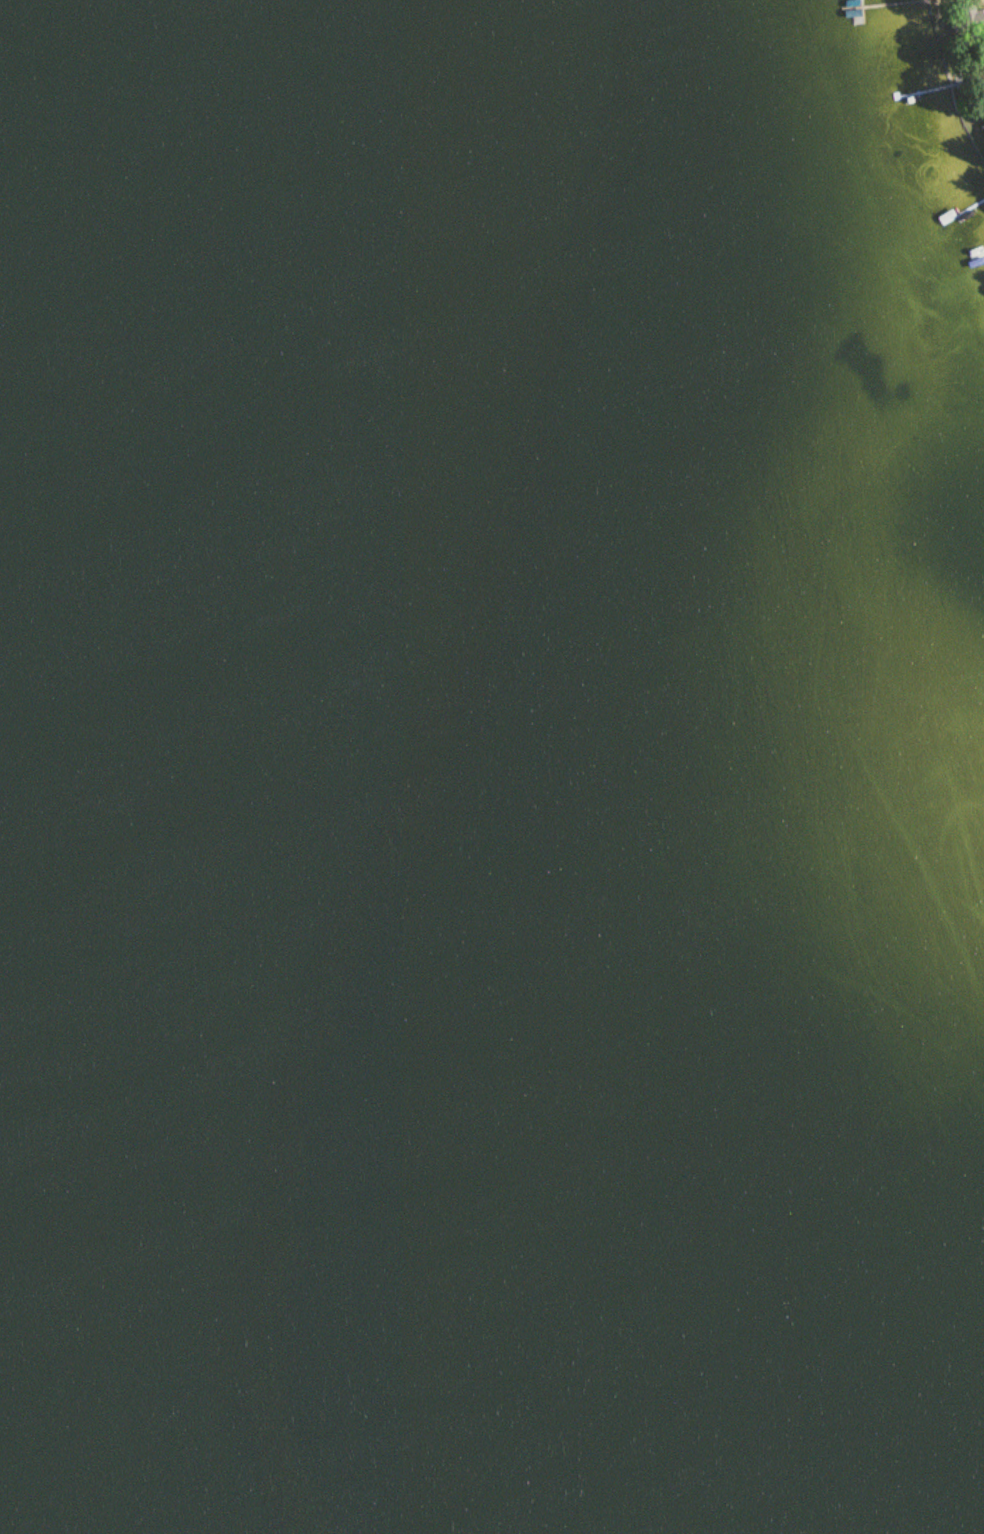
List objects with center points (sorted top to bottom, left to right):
building: (968, 20)
building: (976, 75)
building: (982, 131)

